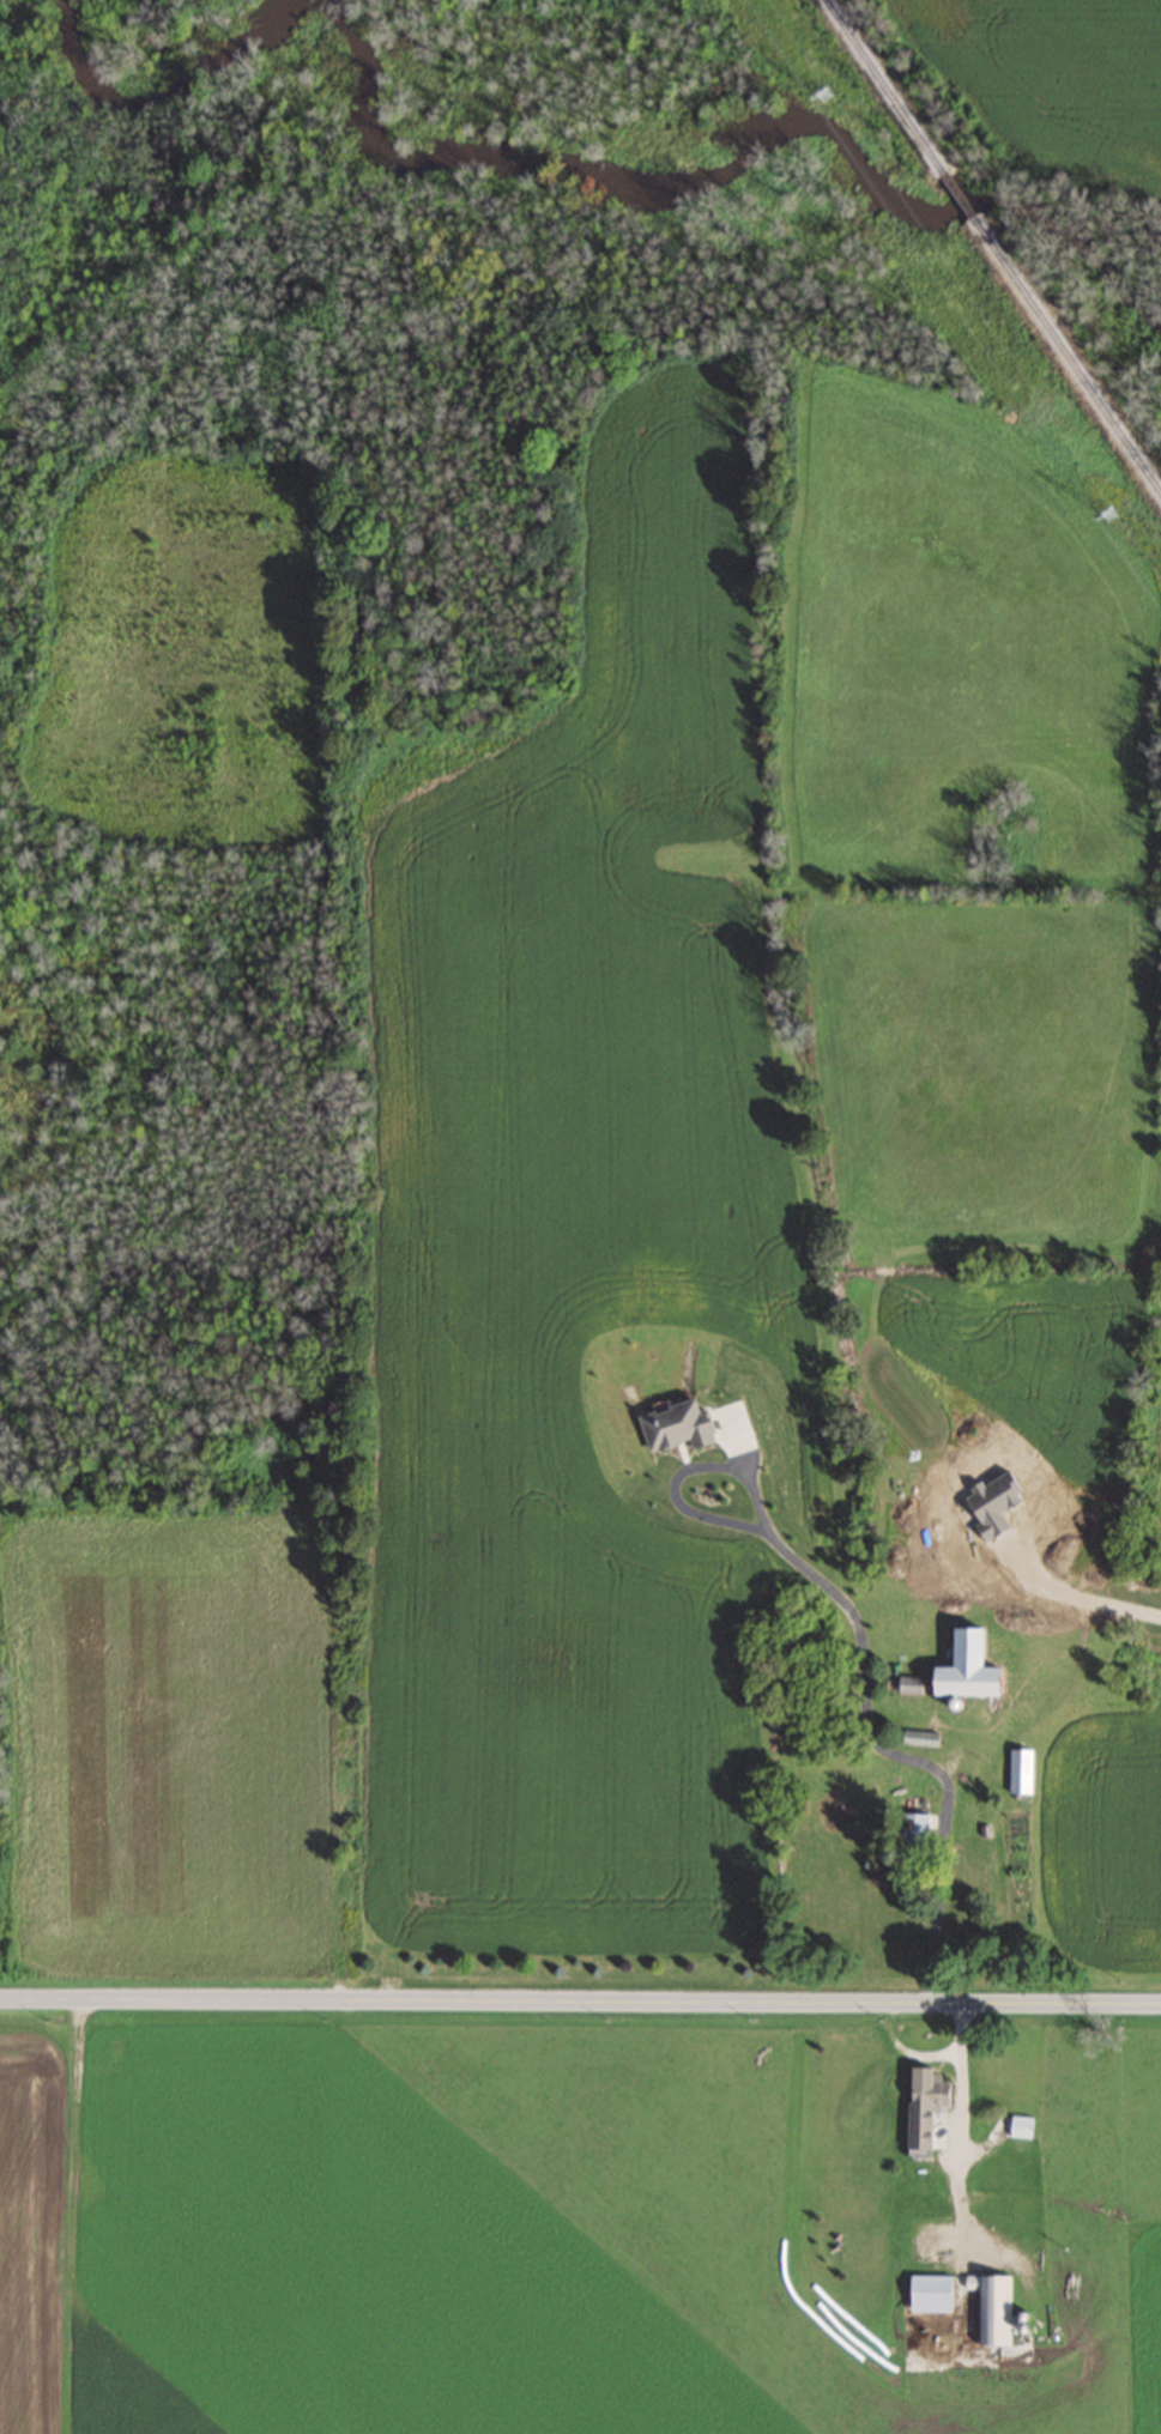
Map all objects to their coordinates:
river: (157, 83)
railway: (882, 85)
river: (748, 141)
railway: (955, 194)
railway: (1065, 357)
road: (1083, 1597)
road: (860, 1640)
building: (966, 1670)
building: (1018, 1770)
building: (911, 1828)
building: (963, 1871)
road: (580, 2000)
road: (907, 2049)
building: (921, 2103)
building: (1020, 2125)
road: (957, 2135)
building: (927, 2293)
building: (991, 2307)

